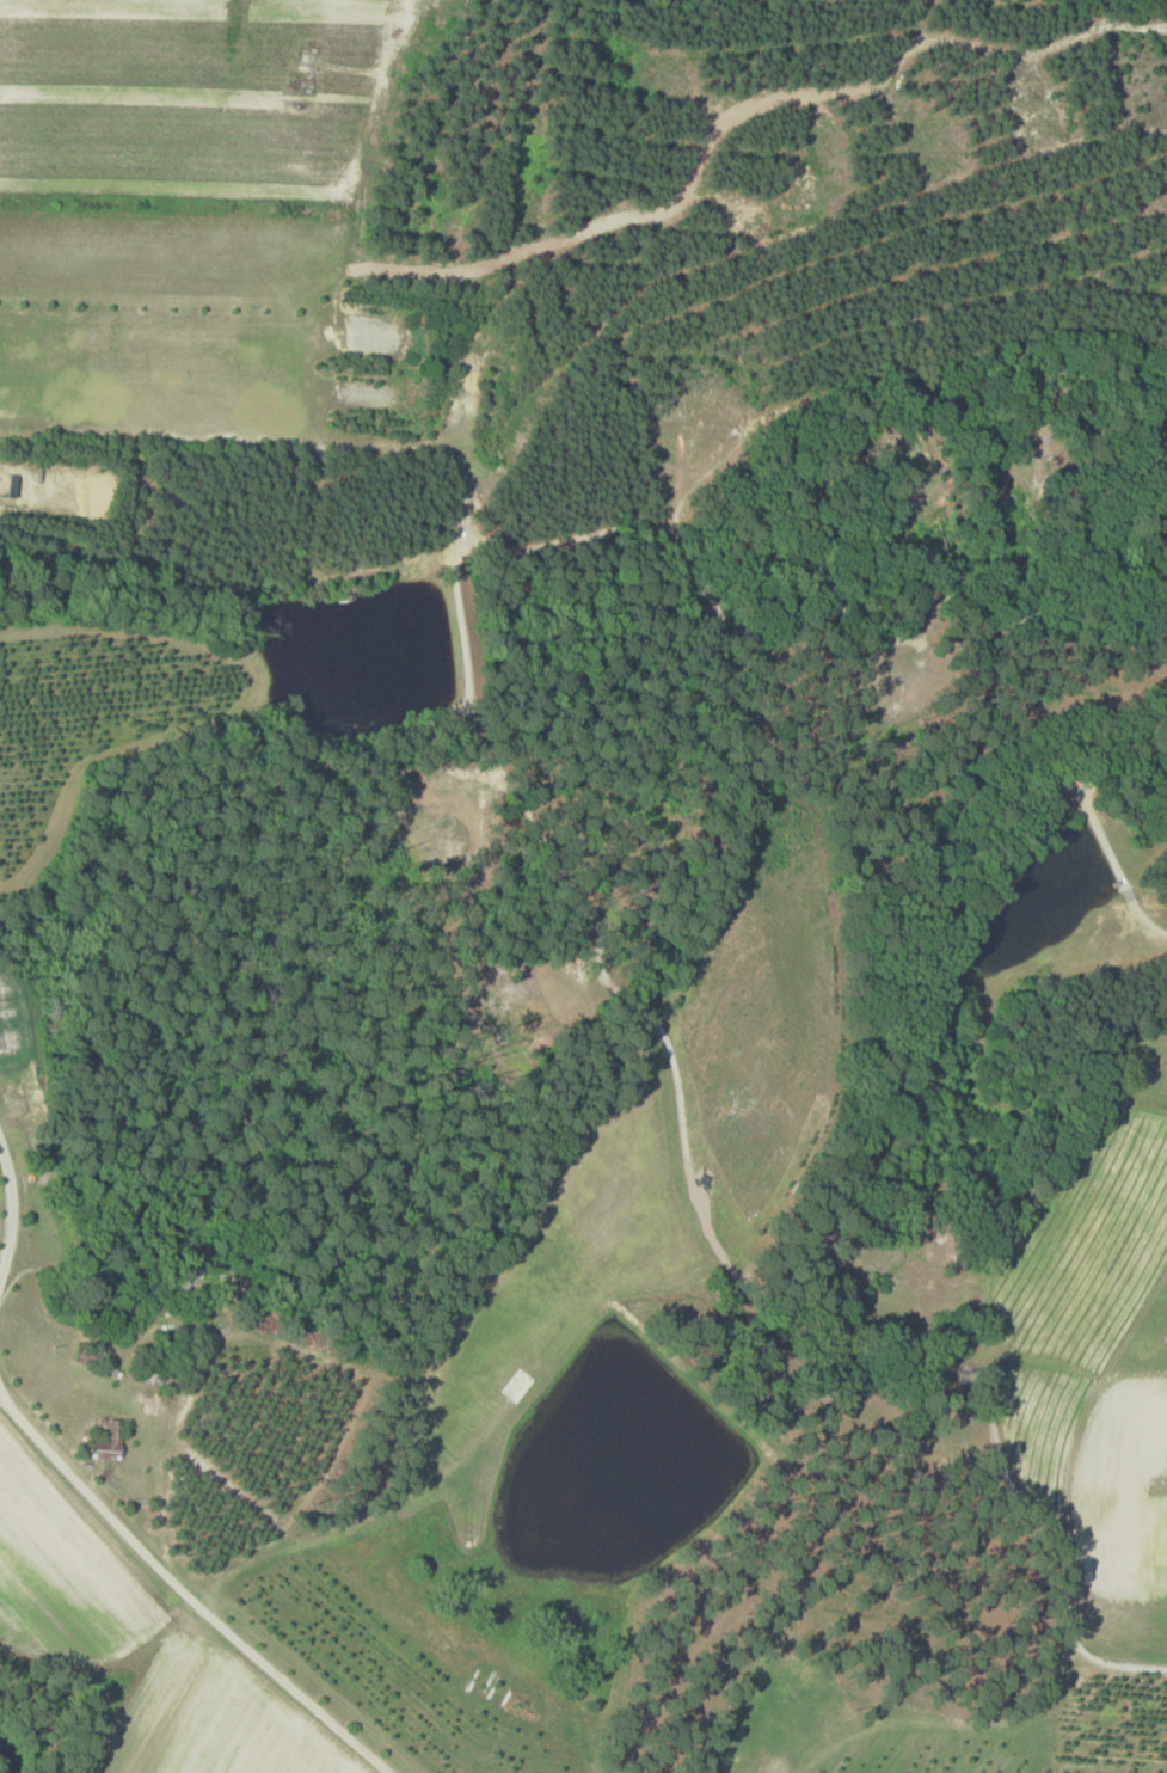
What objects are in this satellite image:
road: (251, 434)
building: (14, 485)
road: (12, 1205)
road: (700, 1210)
building: (112, 1436)
road: (183, 1594)

